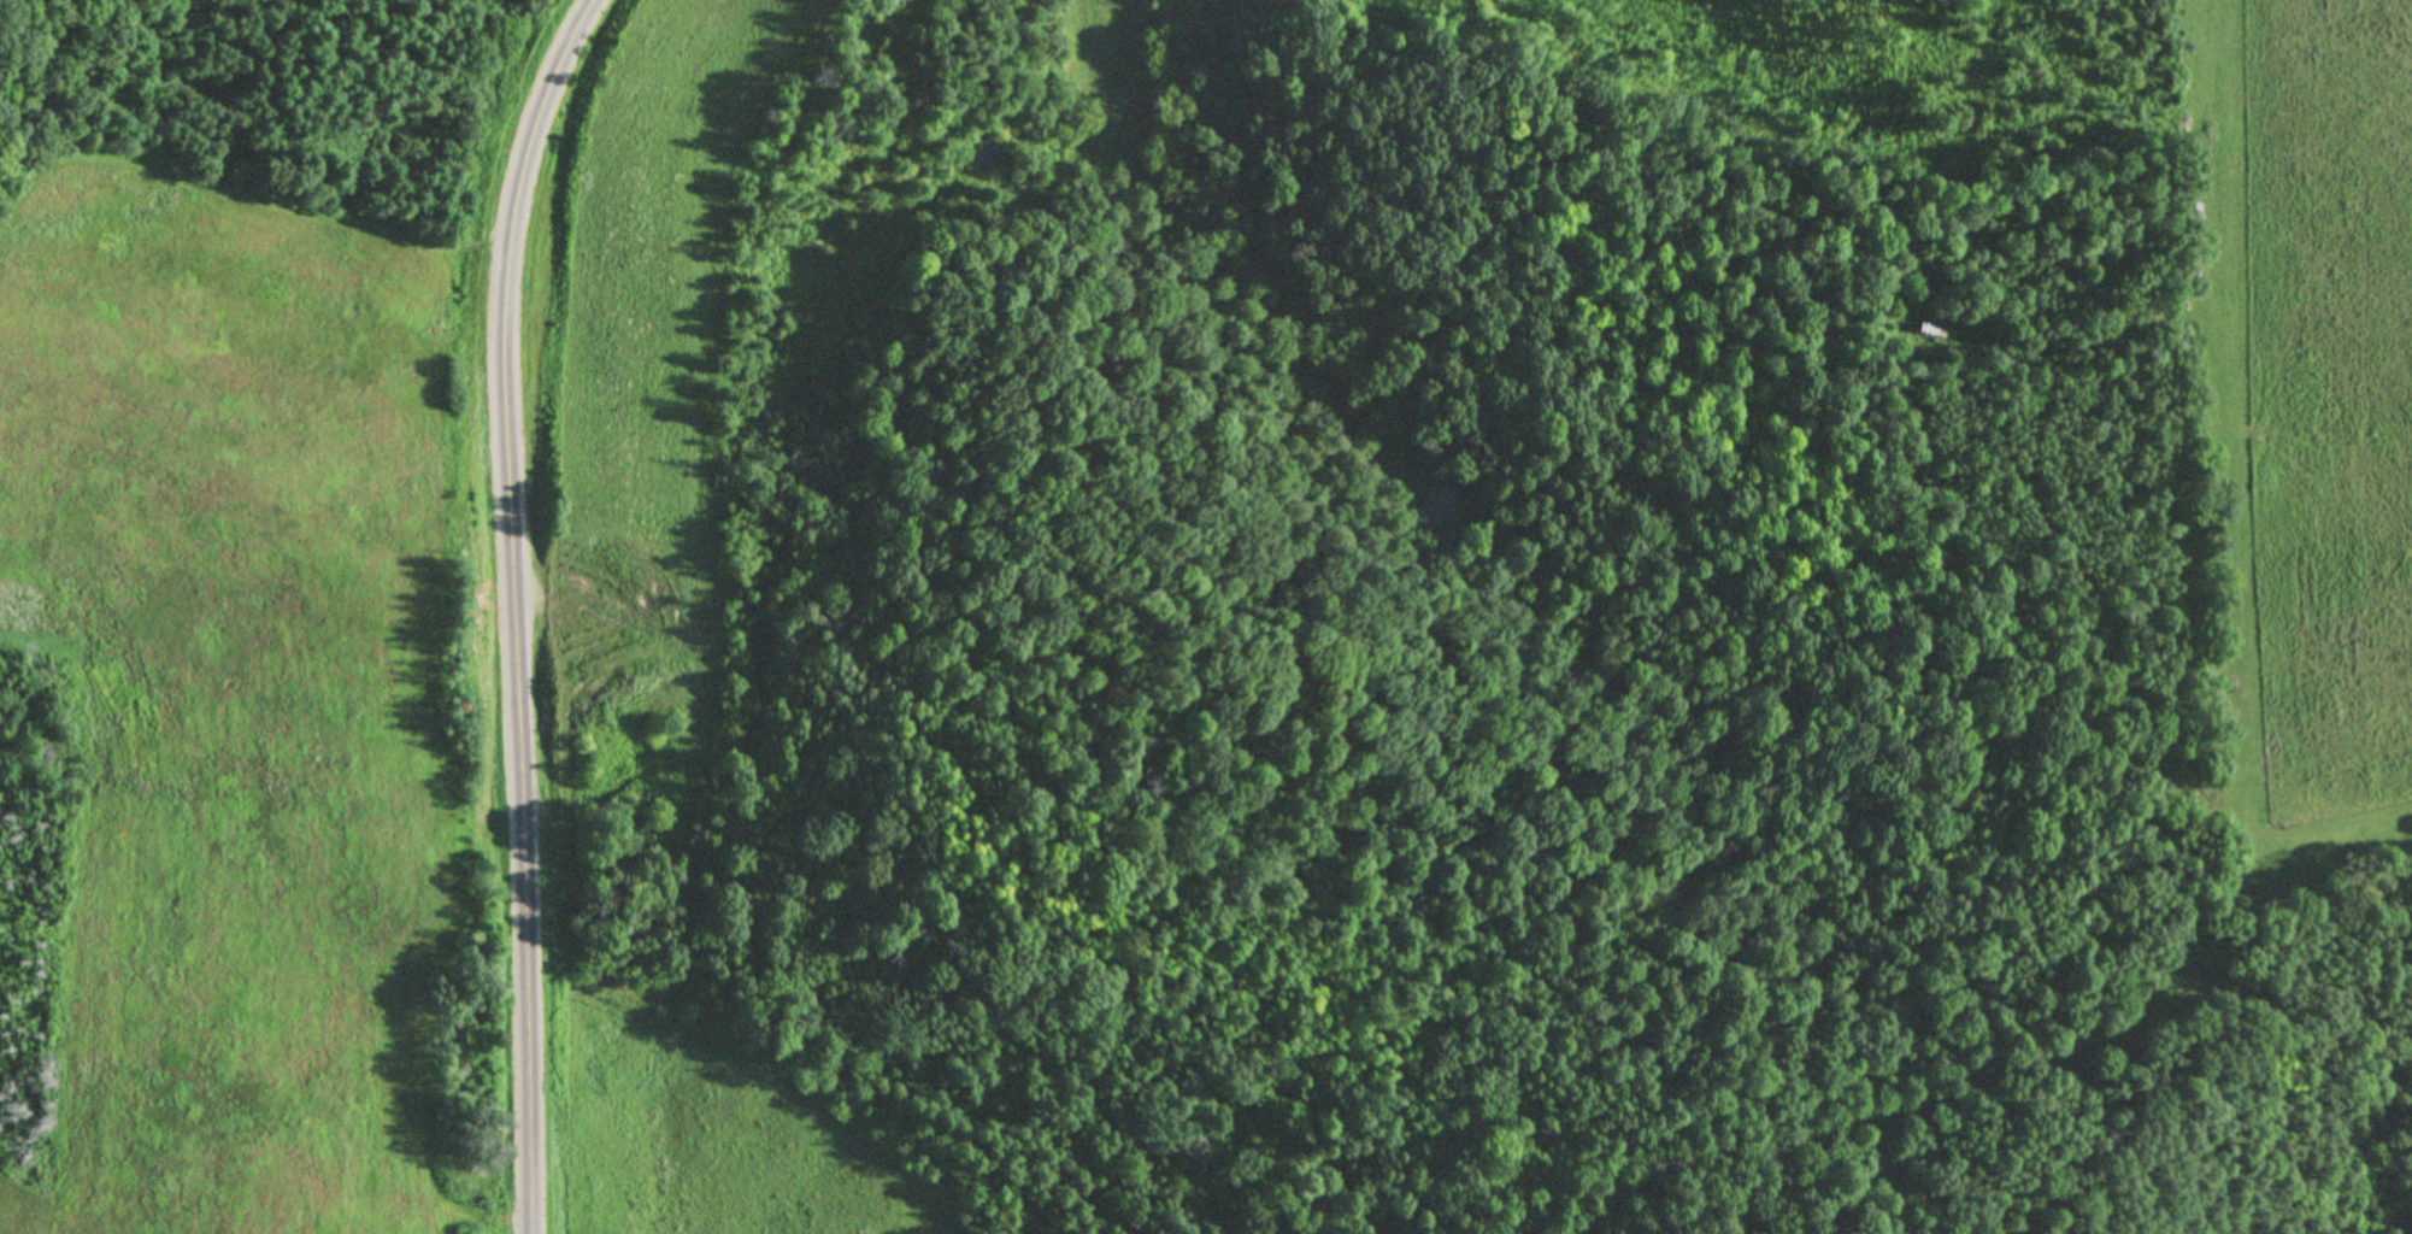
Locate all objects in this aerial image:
building: (1931, 330)
road: (522, 610)

